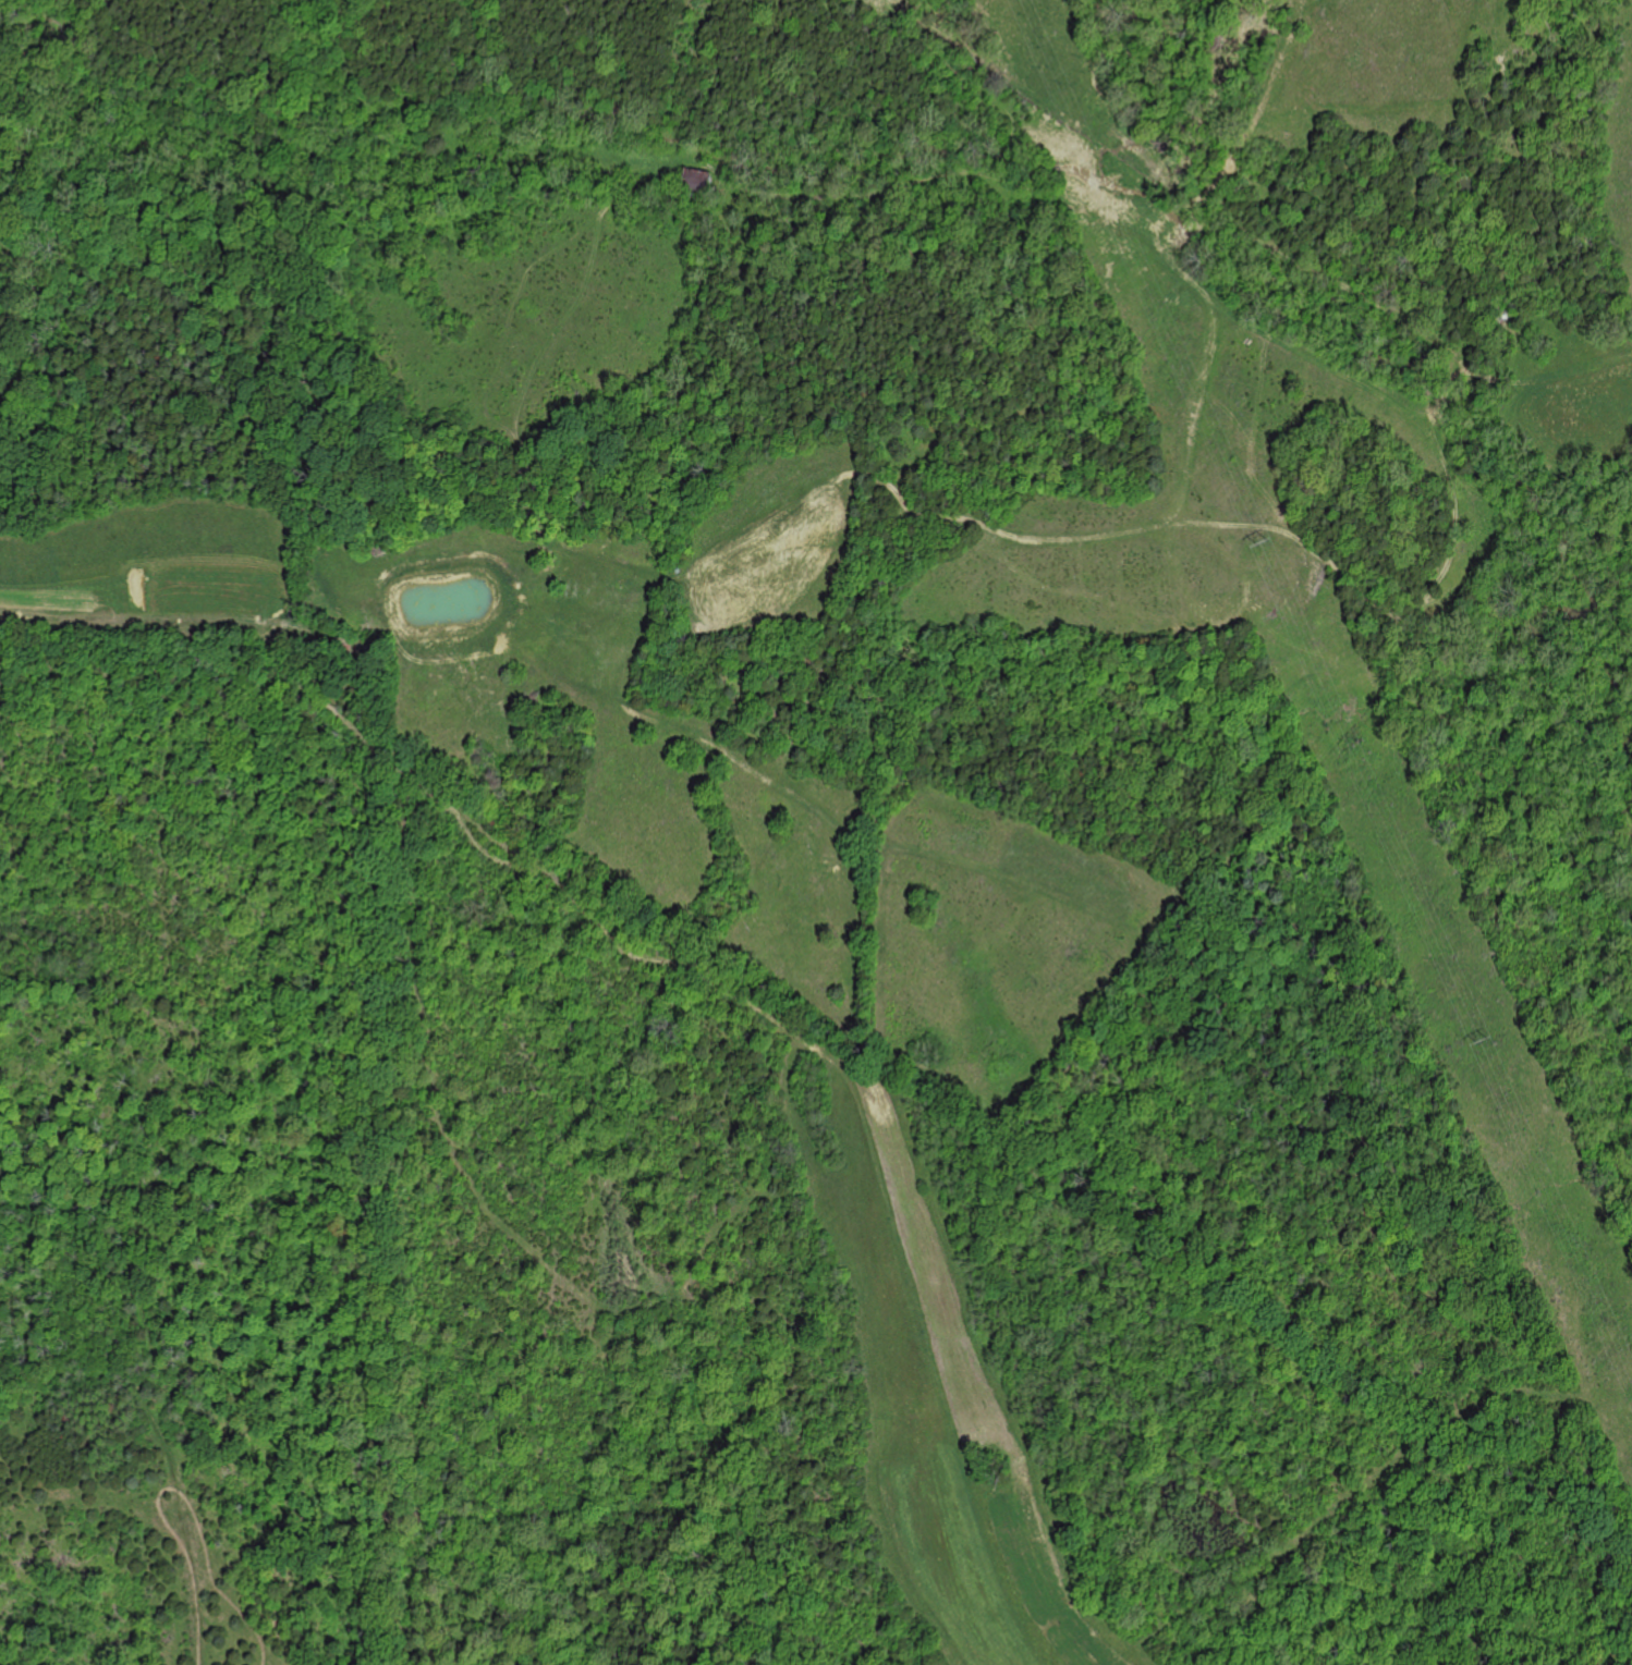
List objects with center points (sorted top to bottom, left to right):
power tower: (1265, 535)
road: (681, 974)
power tower: (1485, 1038)

